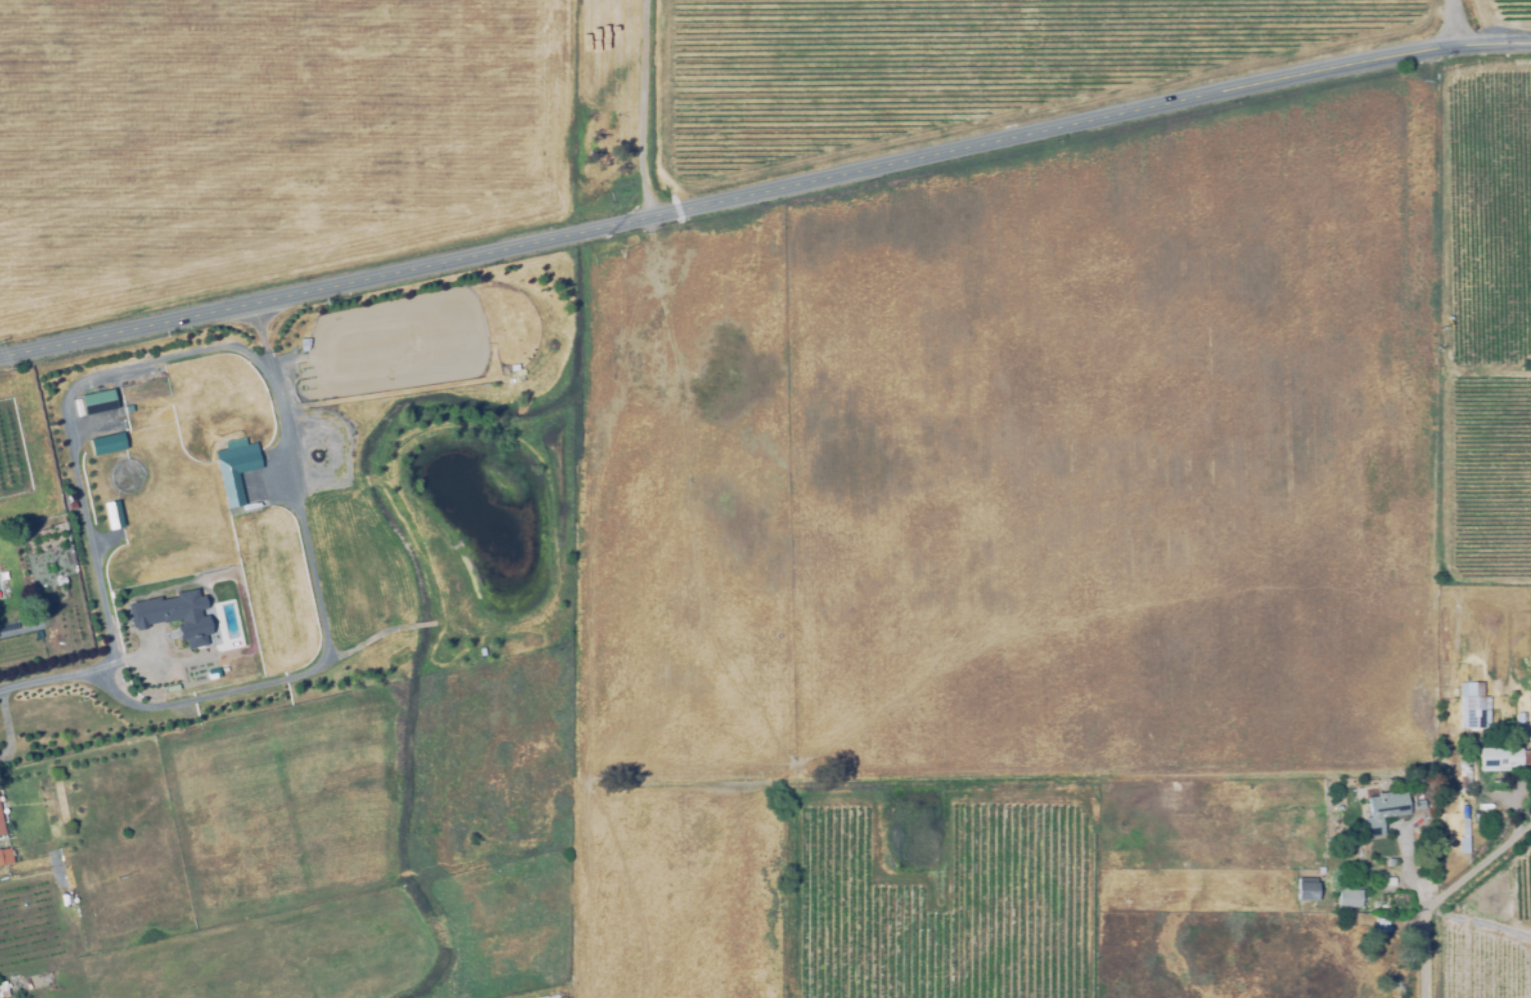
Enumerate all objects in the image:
road: (1449, 21)
road: (764, 187)
building: (96, 400)
road: (67, 432)
building: (106, 444)
building: (234, 468)
building: (111, 514)
building: (173, 617)
building: (218, 621)
road: (325, 646)
building: (1472, 710)
building: (1520, 722)
building: (1502, 760)
building: (1463, 771)
building: (1384, 807)
building: (1483, 808)
building: (0, 824)
building: (1464, 830)
building: (4, 857)
building: (1391, 862)
road: (1471, 869)
building: (1321, 871)
building: (1307, 889)
building: (1350, 898)
building: (1381, 926)
building: (1391, 930)
building: (1380, 944)
road: (1422, 955)
building: (2, 989)

